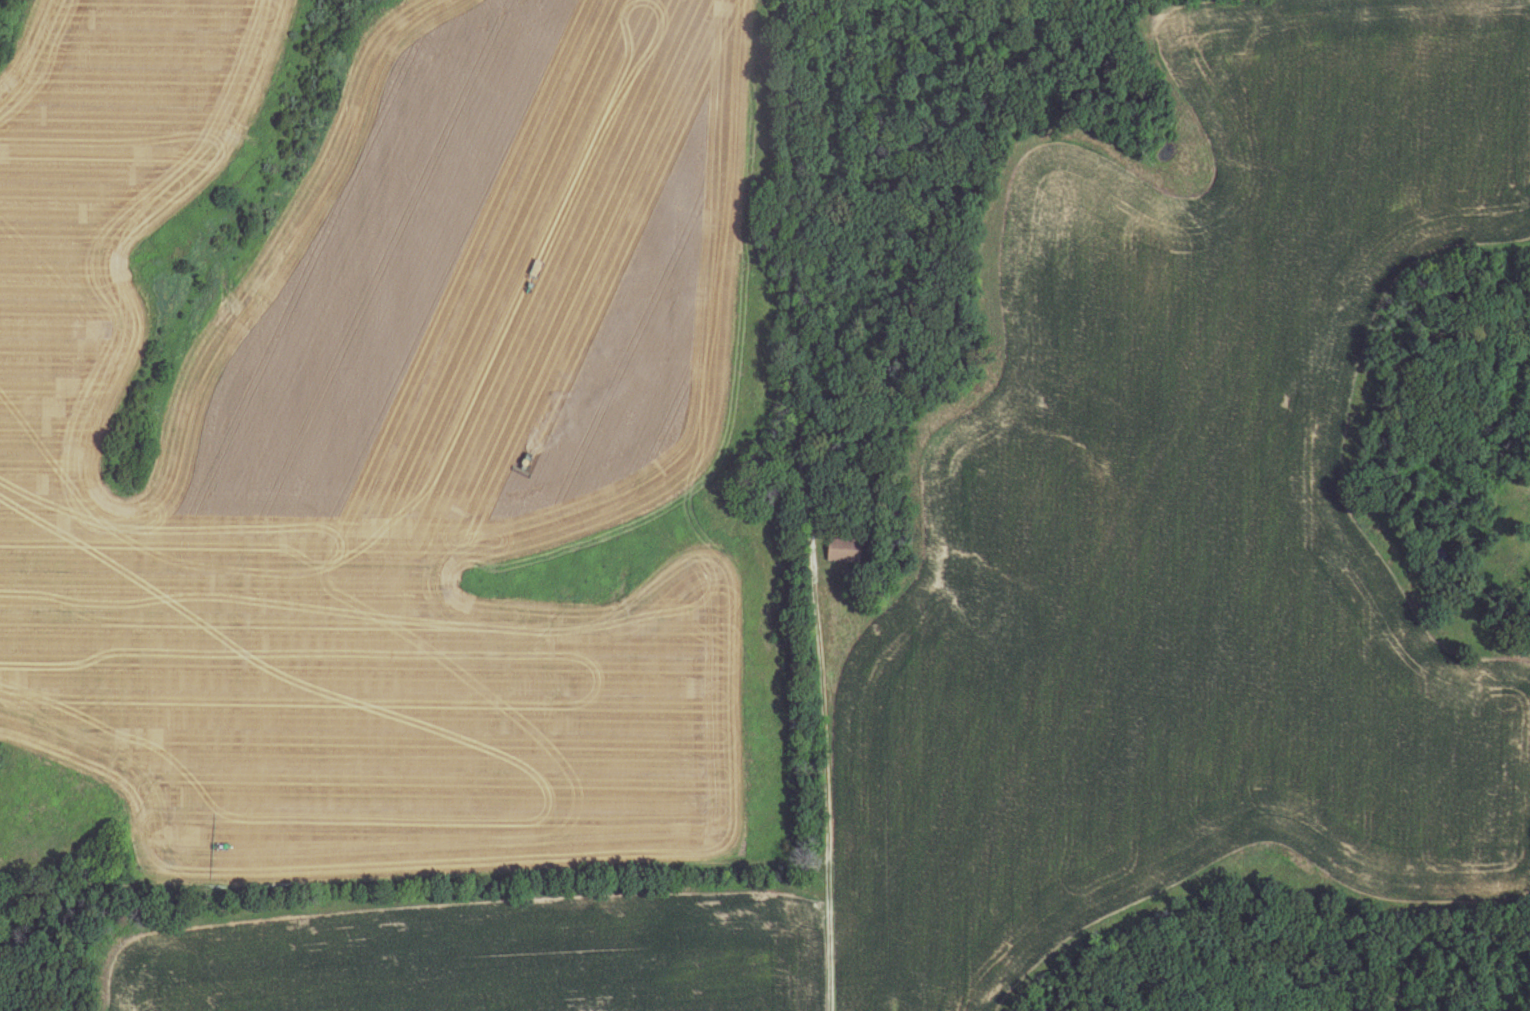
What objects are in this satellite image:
building: (845, 551)

